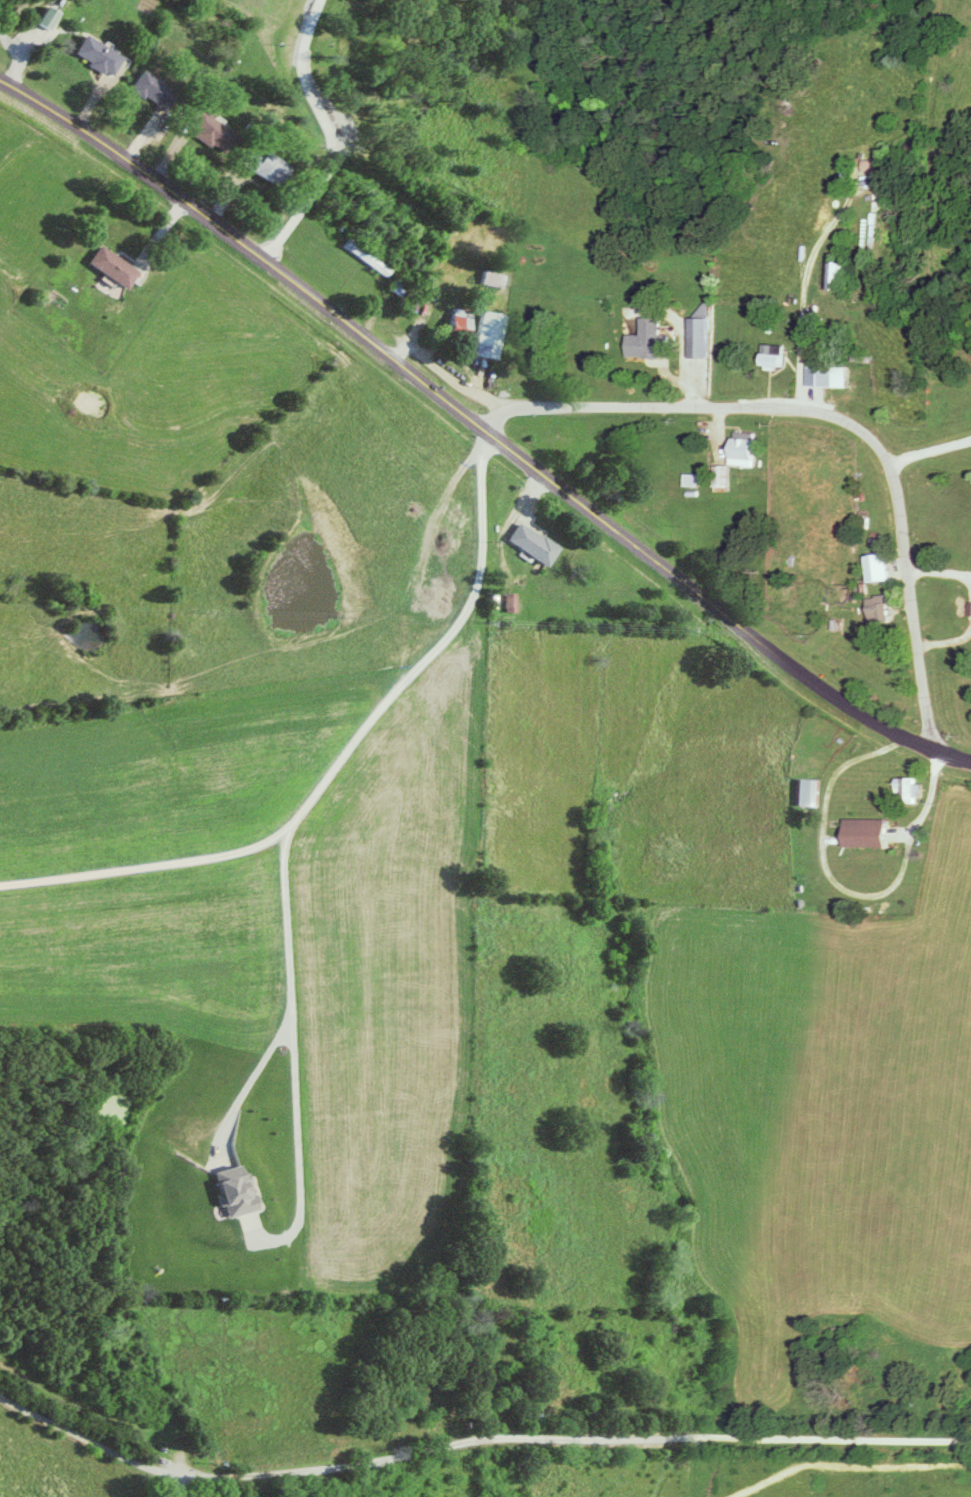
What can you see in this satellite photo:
building: (45, 18)
building: (96, 56)
building: (152, 91)
building: (211, 132)
road: (327, 134)
building: (866, 166)
building: (263, 167)
building: (365, 258)
building: (111, 267)
building: (838, 276)
building: (492, 279)
road: (799, 310)
building: (458, 321)
building: (487, 335)
building: (696, 338)
building: (647, 340)
building: (771, 356)
building: (819, 376)
road: (838, 418)
road: (483, 426)
road: (929, 449)
building: (741, 452)
building: (720, 478)
building: (530, 544)
building: (824, 595)
building: (876, 609)
road: (339, 758)
building: (907, 791)
building: (805, 793)
building: (863, 833)
road: (837, 888)
road: (290, 1062)
road: (246, 1080)
building: (527, 1418)
road: (731, 1445)
road: (239, 1475)

